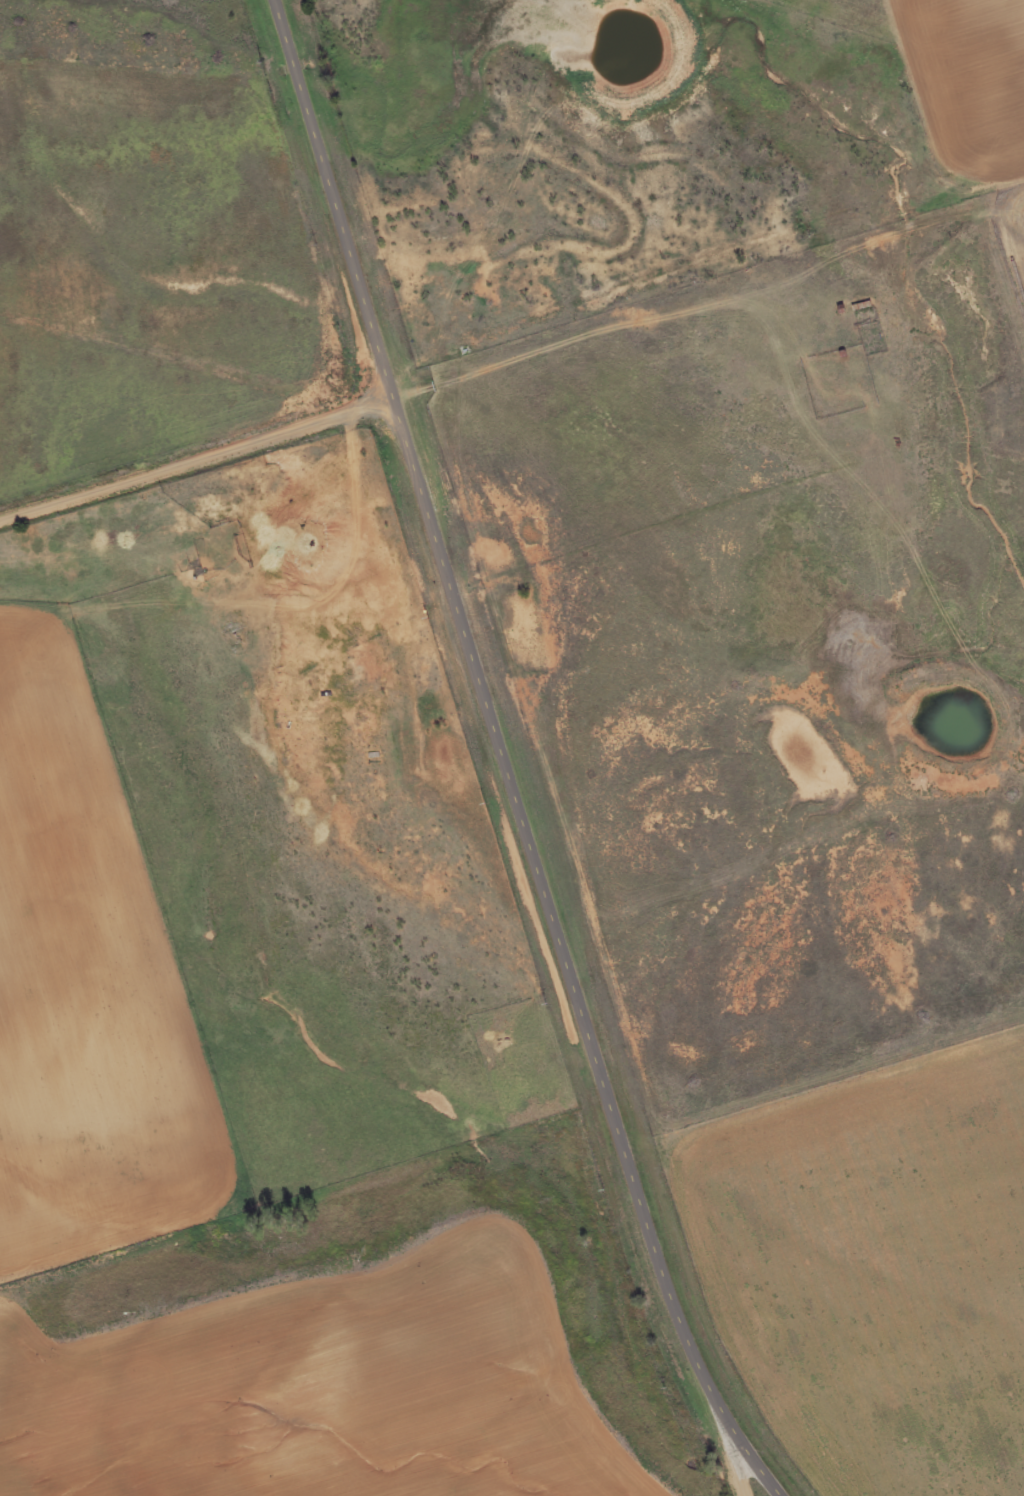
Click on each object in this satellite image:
road: (197, 461)
road: (504, 757)
road: (737, 1458)

